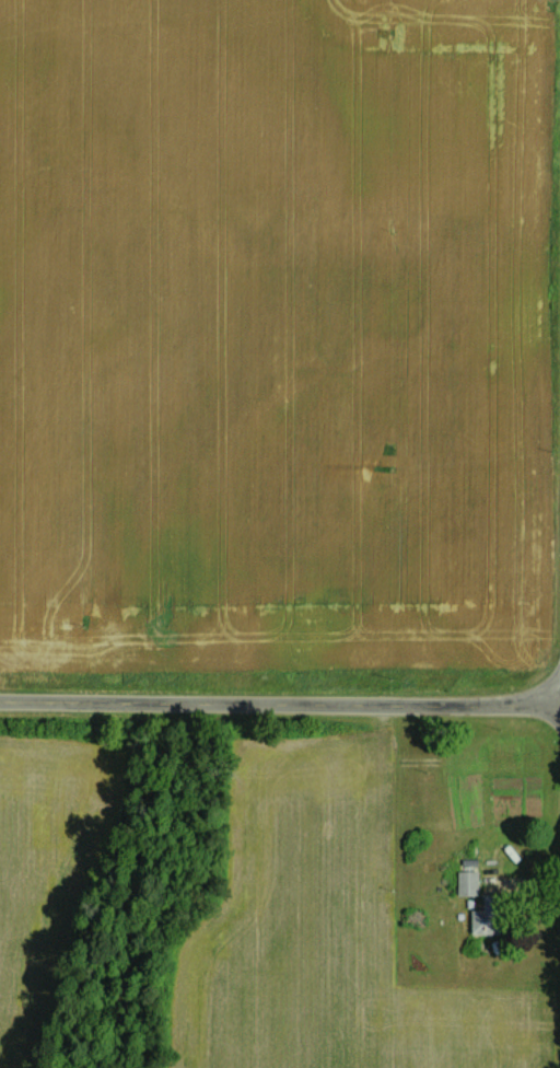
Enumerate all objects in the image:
road: (280, 700)
building: (466, 882)
building: (485, 916)

